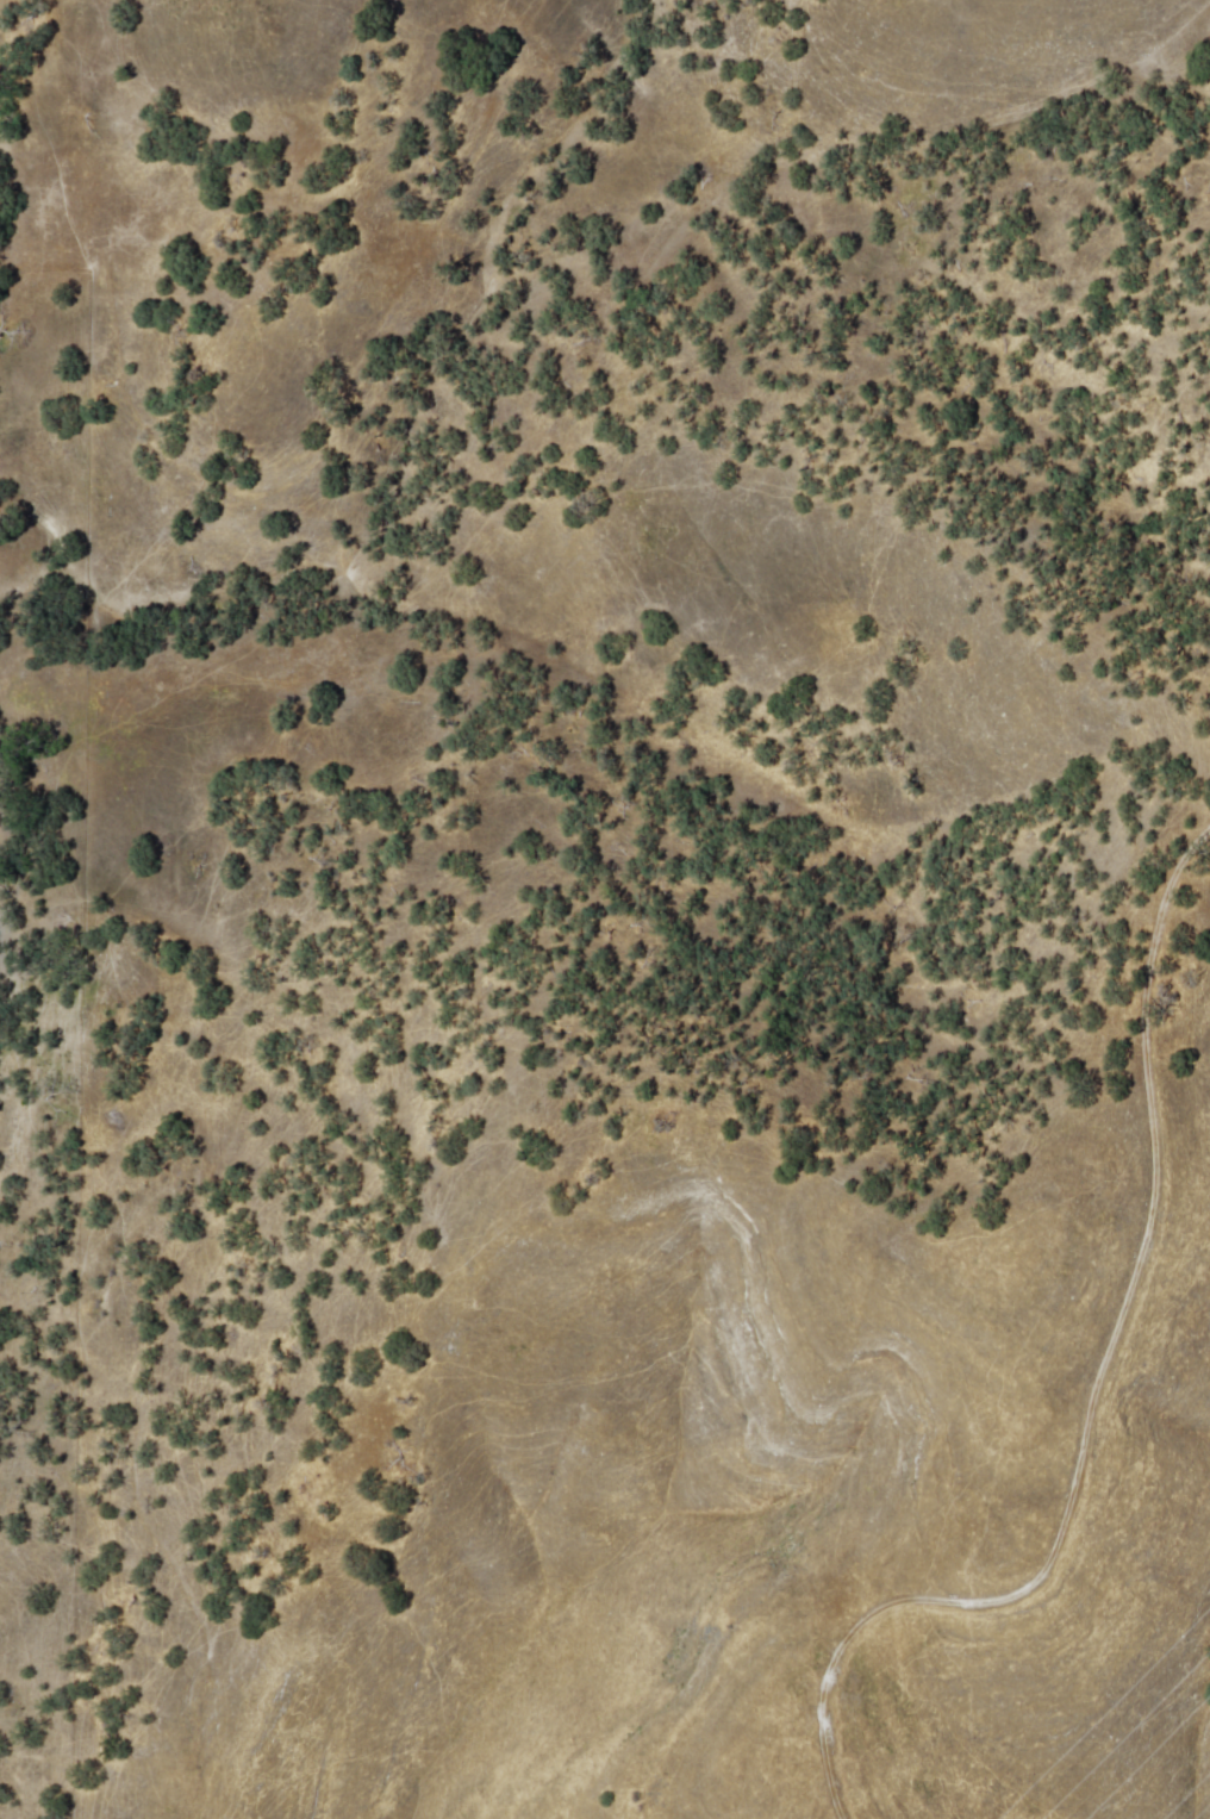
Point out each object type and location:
road: (1089, 1390)

